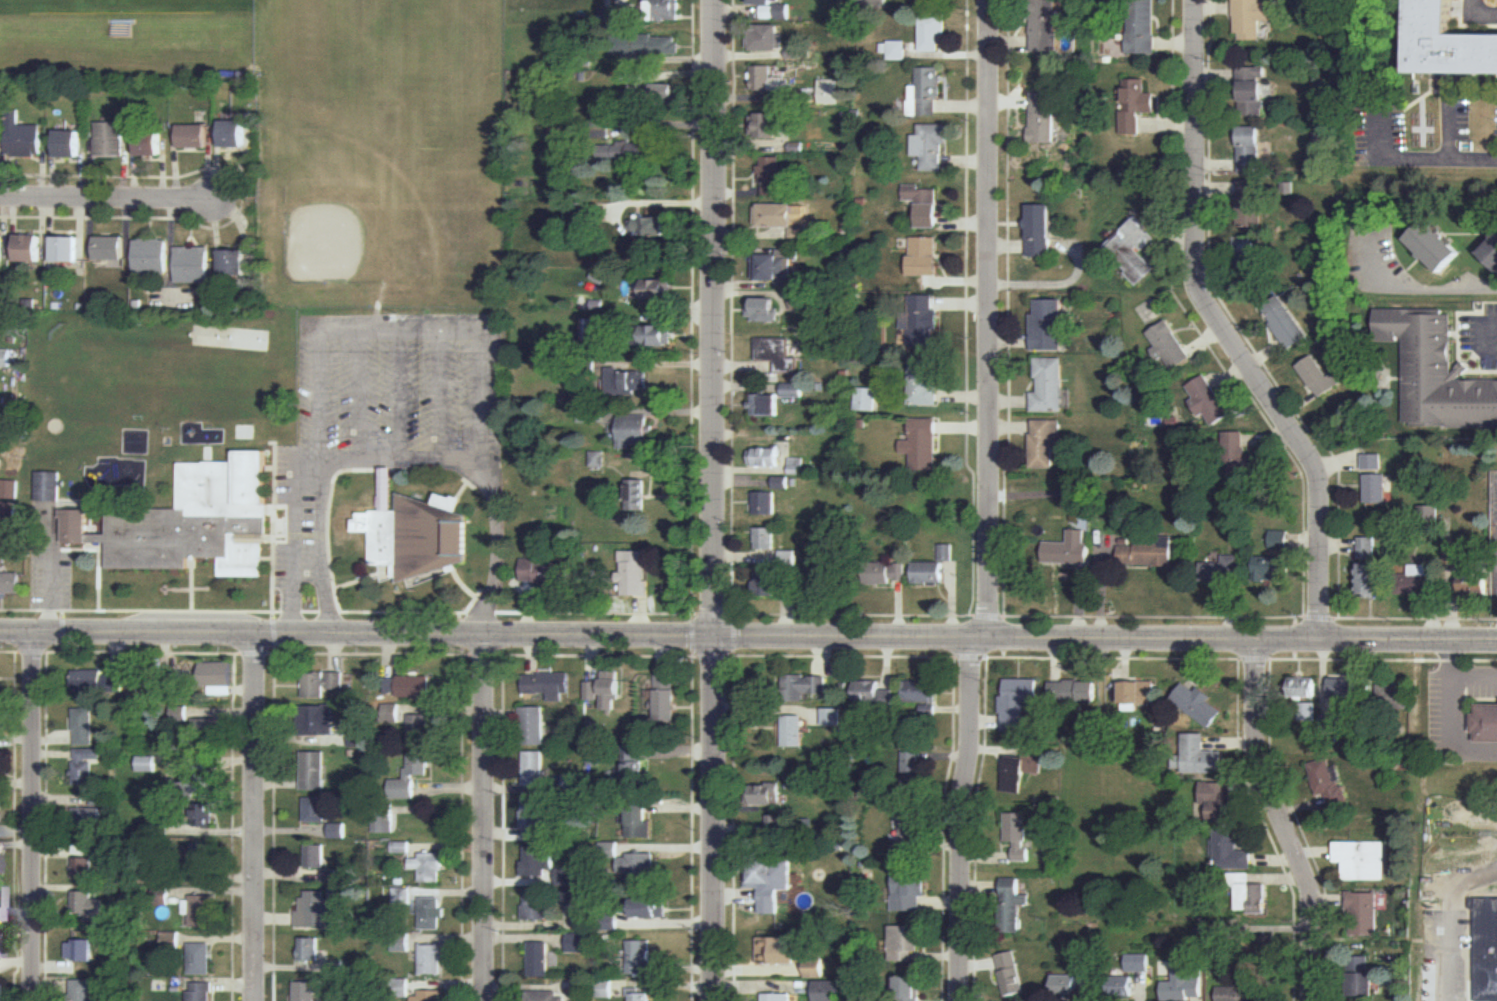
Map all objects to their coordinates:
building: (876, 3)
building: (933, 3)
park: (121, 6)
building: (773, 9)
building: (661, 11)
building: (616, 15)
road: (1480, 15)
building: (1251, 18)
building: (1045, 27)
building: (1141, 27)
building: (931, 31)
building: (764, 38)
building: (1450, 43)
building: (647, 45)
building: (896, 51)
building: (634, 77)
building: (765, 79)
building: (204, 90)
building: (826, 90)
building: (1253, 91)
building: (927, 93)
building: (664, 94)
building: (0, 99)
building: (1134, 107)
building: (1043, 119)
building: (601, 124)
building: (766, 125)
parking lot: (1378, 127)
building: (233, 134)
building: (22, 136)
building: (193, 138)
building: (109, 139)
park: (381, 142)
building: (149, 143)
building: (67, 144)
building: (930, 146)
building: (1248, 149)
building: (636, 151)
road: (1438, 159)
building: (772, 169)
building: (1287, 188)
road: (107, 197)
road: (242, 197)
building: (1249, 202)
building: (924, 205)
building: (783, 218)
building: (654, 225)
building: (1041, 231)
building: (1434, 245)
building: (2, 248)
building: (65, 248)
building: (1133, 248)
building: (28, 249)
building: (108, 249)
building: (1491, 253)
building: (922, 255)
building: (151, 256)
building: (234, 262)
building: (1247, 262)
building: (192, 264)
building: (777, 267)
building: (655, 290)
road: (1436, 292)
building: (802, 301)
building: (585, 302)
building: (766, 310)
road: (991, 317)
building: (919, 319)
road: (1235, 321)
building: (1285, 322)
building: (1045, 325)
road: (1227, 328)
building: (591, 329)
road: (406, 333)
building: (657, 336)
road: (1487, 337)
building: (1168, 345)
building: (780, 352)
building: (6, 357)
building: (1436, 371)
building: (1320, 375)
building: (628, 378)
parking lot: (401, 380)
building: (923, 384)
building: (1048, 384)
building: (792, 388)
building: (1208, 398)
building: (866, 399)
building: (766, 403)
building: (591, 412)
road: (0, 424)
building: (629, 430)
building: (1044, 441)
building: (922, 443)
building: (1239, 455)
building: (765, 456)
road: (399, 459)
building: (599, 459)
building: (1371, 460)
building: (797, 465)
building: (783, 481)
building: (48, 485)
building: (1375, 487)
building: (10, 488)
building: (638, 492)
road: (717, 500)
building: (766, 502)
building: (8, 511)
building: (1429, 520)
building: (193, 521)
parking lot: (297, 523)
road: (328, 524)
road: (274, 527)
building: (418, 531)
road: (293, 534)
building: (765, 537)
building: (1279, 539)
building: (1366, 547)
building: (1069, 548)
building: (946, 552)
building: (1147, 553)
building: (3, 556)
building: (788, 556)
building: (1453, 558)
building: (1220, 567)
building: (1274, 568)
building: (543, 570)
building: (634, 572)
building: (882, 572)
building: (928, 572)
building: (1372, 579)
building: (10, 581)
parking lot: (52, 581)
building: (1413, 581)
building: (774, 582)
building: (1475, 585)
road: (652, 613)
road: (692, 615)
road: (852, 615)
road: (986, 615)
road: (1176, 616)
road: (1321, 617)
road: (1418, 618)
road: (62, 631)
road: (748, 635)
road: (31, 652)
road: (139, 652)
road: (274, 652)
road: (462, 652)
road: (368, 653)
road: (842, 654)
road: (970, 655)
road: (595, 656)
road: (1116, 657)
road: (1254, 658)
building: (217, 677)
road: (1475, 679)
building: (96, 680)
building: (547, 683)
building: (326, 684)
building: (390, 684)
building: (414, 686)
building: (802, 687)
building: (1345, 687)
building: (591, 689)
building: (611, 691)
building: (921, 695)
building: (1077, 695)
building: (1137, 695)
building: (664, 696)
building: (871, 696)
building: (1393, 696)
building: (1304, 698)
building: (1017, 704)
building: (1199, 704)
building: (179, 713)
road: (1452, 716)
building: (831, 717)
building: (317, 719)
road: (1271, 722)
building: (1488, 722)
building: (1, 723)
building: (533, 725)
building: (84, 726)
building: (1330, 726)
building: (419, 729)
building: (207, 730)
building: (793, 732)
building: (1198, 757)
building: (631, 762)
building: (85, 764)
building: (147, 764)
building: (912, 766)
building: (533, 768)
building: (1021, 768)
building: (314, 771)
building: (410, 777)
building: (576, 783)
building: (1328, 784)
building: (196, 785)
building: (767, 794)
building: (100, 799)
building: (1217, 801)
building: (315, 810)
building: (204, 815)
road: (35, 817)
road: (255, 817)
road: (486, 817)
road: (963, 817)
building: (87, 818)
building: (384, 818)
road: (1284, 819)
road: (15, 820)
building: (639, 820)
building: (536, 821)
building: (774, 823)
building: (910, 823)
park: (1115, 825)
building: (159, 826)
building: (338, 829)
building: (1017, 835)
building: (401, 846)
building: (607, 849)
building: (1233, 852)
building: (315, 854)
building: (204, 858)
building: (1362, 859)
building: (536, 861)
building: (82, 865)
building: (429, 865)
building: (637, 868)
building: (161, 869)
building: (332, 873)
building: (566, 876)
building: (768, 878)
building: (908, 887)
building: (1248, 892)
building: (402, 894)
building: (161, 895)
building: (0, 896)
building: (535, 904)
building: (1011, 904)
building: (649, 907)
building: (89, 909)
building: (202, 909)
building: (315, 909)
building: (430, 911)
building: (1363, 911)
building: (608, 921)
building: (1210, 932)
building: (170, 939)
building: (401, 941)
building: (582, 941)
building: (1, 942)
building: (903, 942)
building: (310, 948)
building: (1487, 948)
building: (780, 949)
building: (85, 950)
building: (1264, 950)
building: (640, 956)
building: (202, 957)
road: (1447, 957)
building: (541, 958)
building: (430, 959)
building: (1084, 960)
building: (814, 966)
building: (336, 969)
building: (1012, 973)
building: (1129, 975)
building: (1362, 977)
building: (1183, 984)
building: (1066, 985)
building: (582, 987)
building: (401, 988)
building: (604, 988)
building: (908, 988)
building: (82, 989)
building: (828, 989)
building: (306, 990)
building: (201, 991)
building: (1240, 992)
building: (545, 994)
building: (429, 996)
building: (641, 996)
building: (776, 997)
building: (333, 1000)

